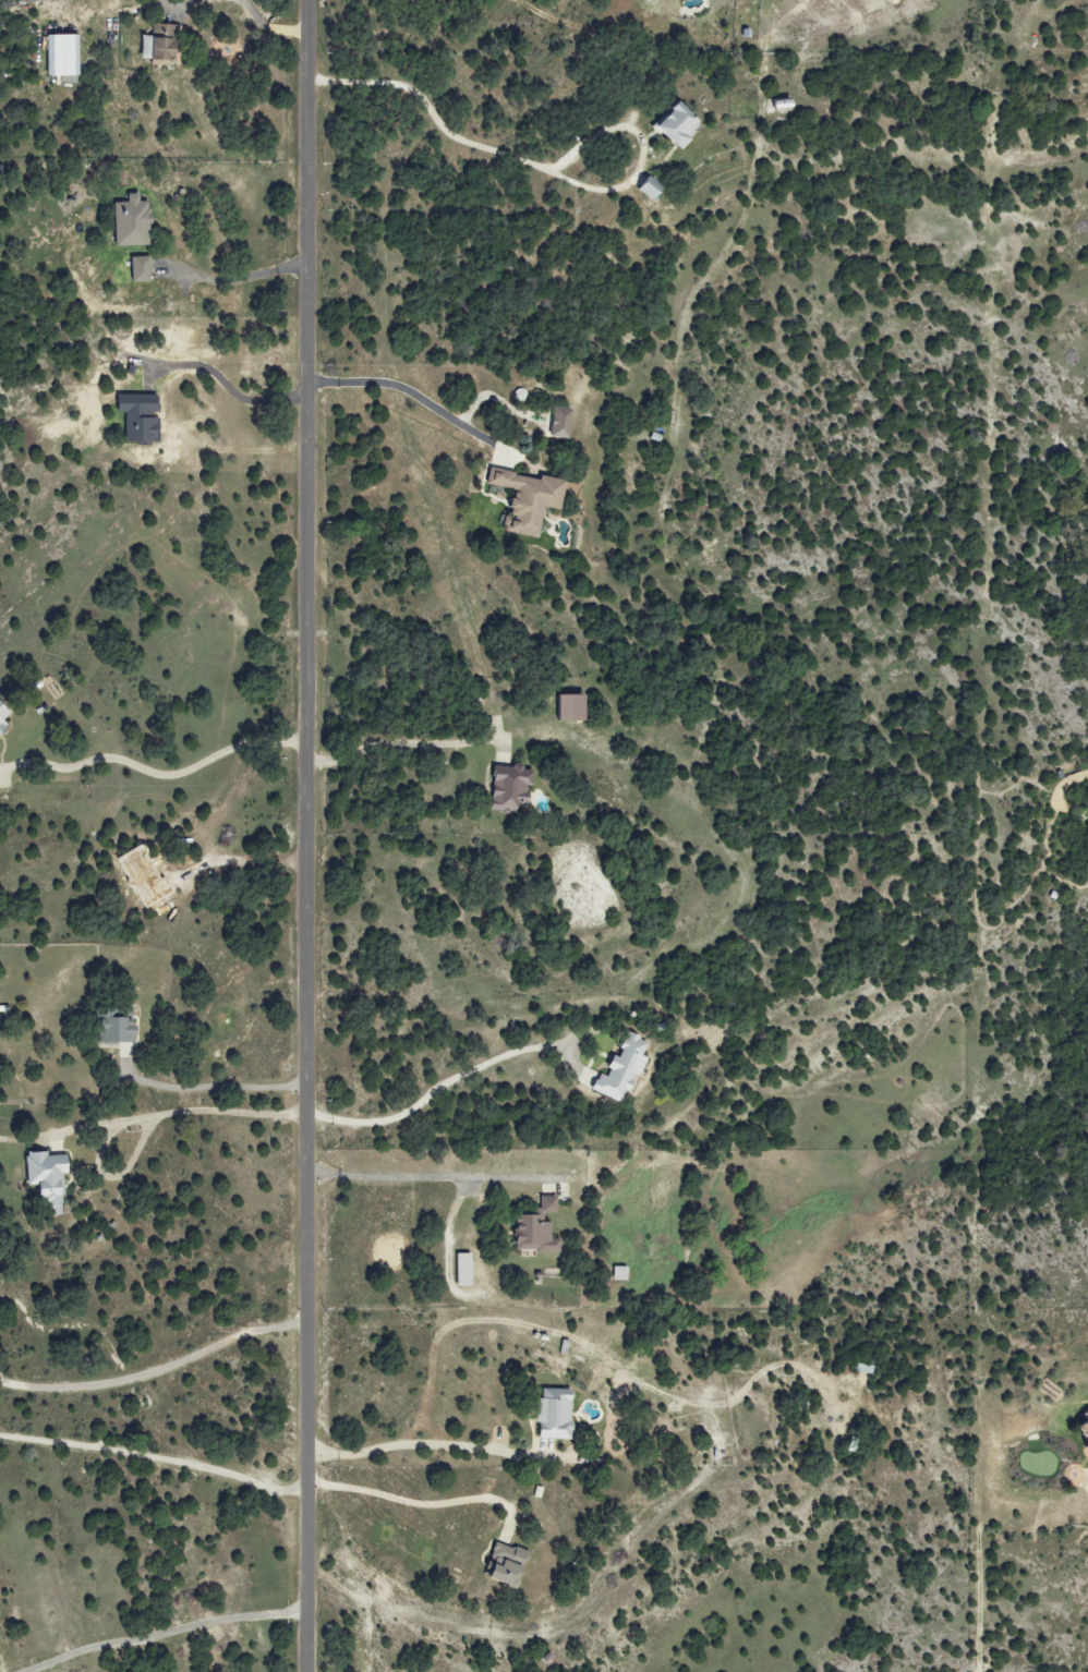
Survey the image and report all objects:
building: (644, 0)
building: (34, 1)
building: (162, 43)
building: (64, 54)
building: (777, 104)
building: (669, 123)
road: (448, 135)
building: (134, 222)
building: (143, 269)
road: (230, 278)
road: (401, 391)
building: (142, 417)
building: (556, 422)
building: (523, 500)
building: (572, 706)
building: (4, 715)
road: (400, 746)
road: (155, 772)
building: (512, 787)
road: (306, 836)
building: (119, 1027)
building: (624, 1070)
road: (218, 1089)
road: (432, 1091)
road: (171, 1114)
road: (392, 1174)
building: (50, 1178)
building: (541, 1228)
building: (466, 1270)
building: (621, 1273)
road: (155, 1372)
building: (556, 1415)
building: (1081, 1434)
road: (422, 1446)
road: (154, 1453)
road: (418, 1499)
building: (508, 1564)
road: (157, 1628)

